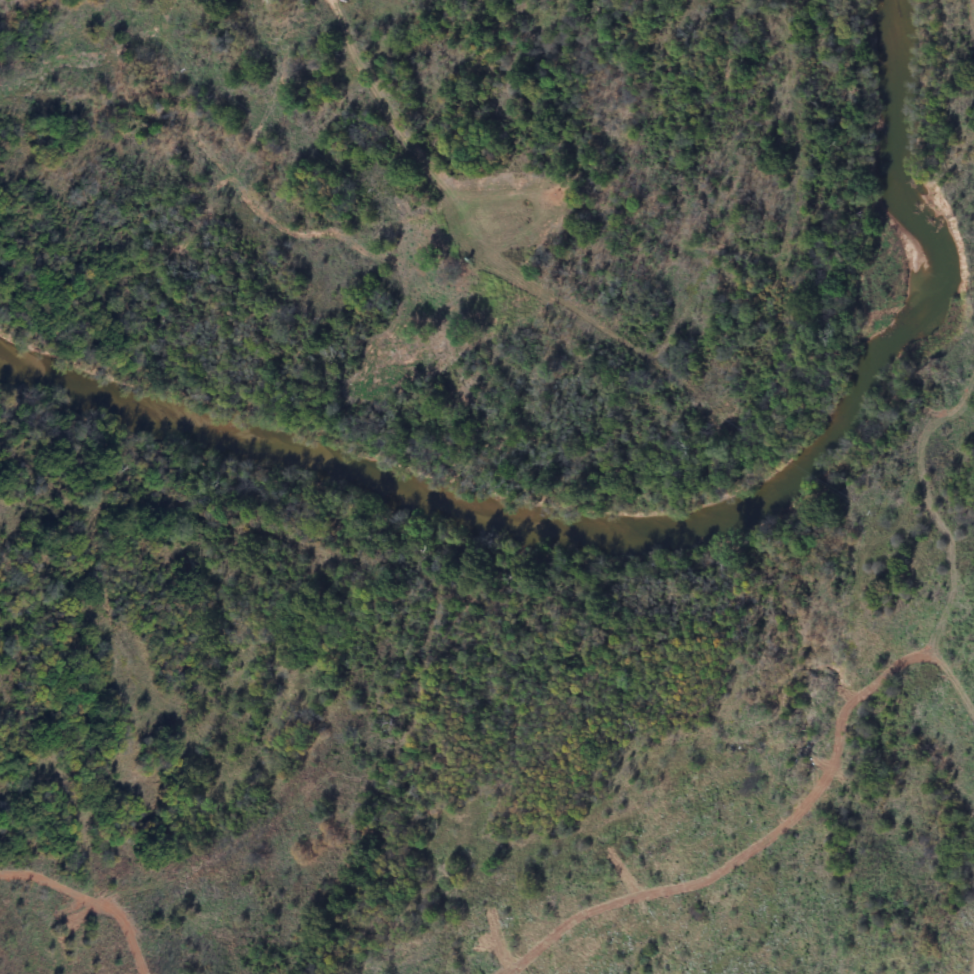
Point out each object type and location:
river: (643, 514)

